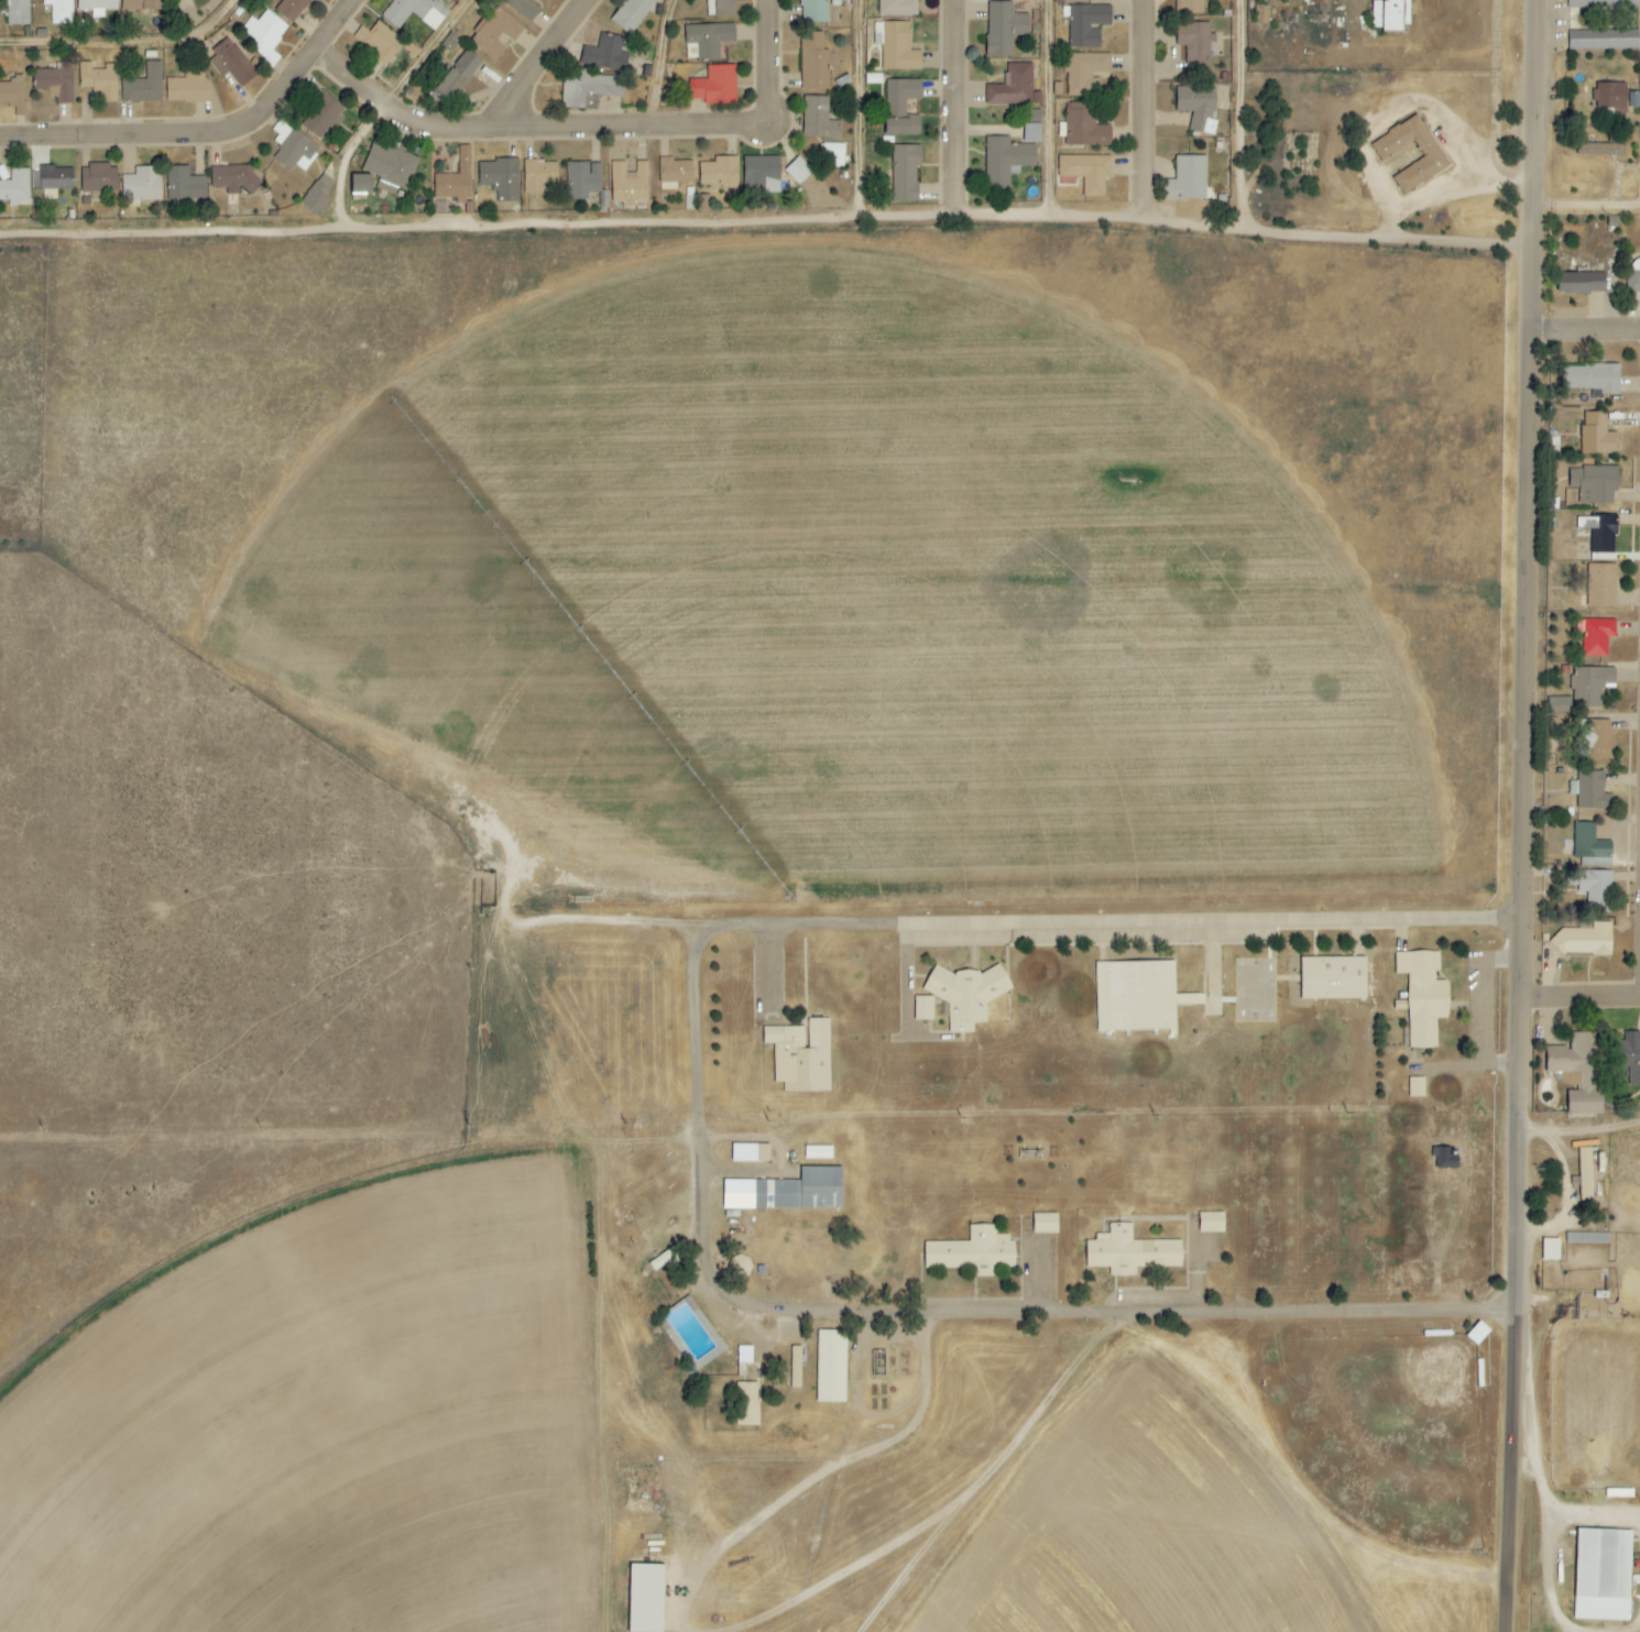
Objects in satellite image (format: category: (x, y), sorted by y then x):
building: (172, 0)
building: (1084, 0)
building: (1601, 3)
building: (140, 4)
building: (96, 7)
building: (1191, 7)
building: (291, 8)
building: (523, 8)
building: (719, 8)
building: (898, 8)
building: (59, 11)
building: (813, 11)
building: (17, 12)
building: (414, 12)
building: (632, 14)
building: (1261, 14)
building: (1389, 14)
building: (1086, 25)
building: (1004, 28)
building: (264, 32)
building: (494, 33)
building: (1604, 40)
building: (707, 41)
building: (1195, 43)
road: (125, 45)
building: (896, 46)
building: (386, 51)
building: (608, 54)
building: (813, 62)
building: (232, 63)
road: (665, 63)
road: (539, 65)
building: (1086, 73)
building: (456, 74)
building: (98, 79)
building: (55, 83)
building: (143, 86)
building: (714, 86)
building: (188, 87)
building: (1014, 87)
building: (587, 88)
building: (13, 95)
building: (1611, 97)
building: (901, 107)
road: (392, 108)
building: (1198, 108)
road: (866, 111)
road: (961, 111)
road: (1056, 111)
road: (1146, 112)
building: (321, 116)
building: (1034, 117)
road: (1248, 117)
building: (818, 119)
building: (1085, 127)
road: (597, 132)
road: (208, 133)
building: (1031, 133)
building: (293, 147)
building: (1605, 147)
building: (1387, 151)
building: (833, 155)
building: (1005, 161)
building: (391, 167)
building: (798, 171)
building: (719, 172)
building: (905, 172)
building: (1086, 172)
building: (675, 173)
building: (761, 174)
building: (538, 175)
building: (52, 178)
building: (500, 178)
building: (1188, 178)
building: (455, 179)
building: (98, 180)
building: (231, 180)
building: (582, 180)
building: (360, 184)
building: (628, 184)
building: (141, 185)
building: (184, 185)
building: (15, 187)
building: (317, 195)
building: (466, 207)
road: (1592, 209)
road: (945, 222)
road: (175, 237)
building: (1634, 282)
building: (1581, 283)
road: (1589, 330)
building: (1592, 379)
building: (1596, 436)
building: (1595, 484)
building: (1599, 535)
building: (1601, 585)
building: (1597, 637)
road: (1535, 668)
building: (1592, 687)
building: (1563, 704)
building: (1598, 737)
building: (1590, 791)
building: (1590, 846)
building: (1592, 885)
road: (1119, 922)
road: (604, 923)
parking lot: (1096, 933)
building: (1584, 939)
building: (1333, 978)
park: (1253, 990)
building: (966, 994)
building: (1423, 996)
building: (1138, 997)
road: (1586, 1000)
building: (923, 1008)
building: (801, 1055)
building: (1629, 1056)
building: (1577, 1071)
building: (1415, 1087)
road: (1585, 1132)
building: (750, 1153)
building: (818, 1153)
building: (1444, 1158)
building: (1585, 1174)
building: (801, 1191)
building: (1211, 1223)
building: (1045, 1224)
building: (1587, 1238)
building: (1551, 1249)
building: (1129, 1252)
road: (930, 1312)
building: (831, 1367)
building: (746, 1404)
road: (1517, 1485)
building: (1603, 1575)
building: (645, 1598)

